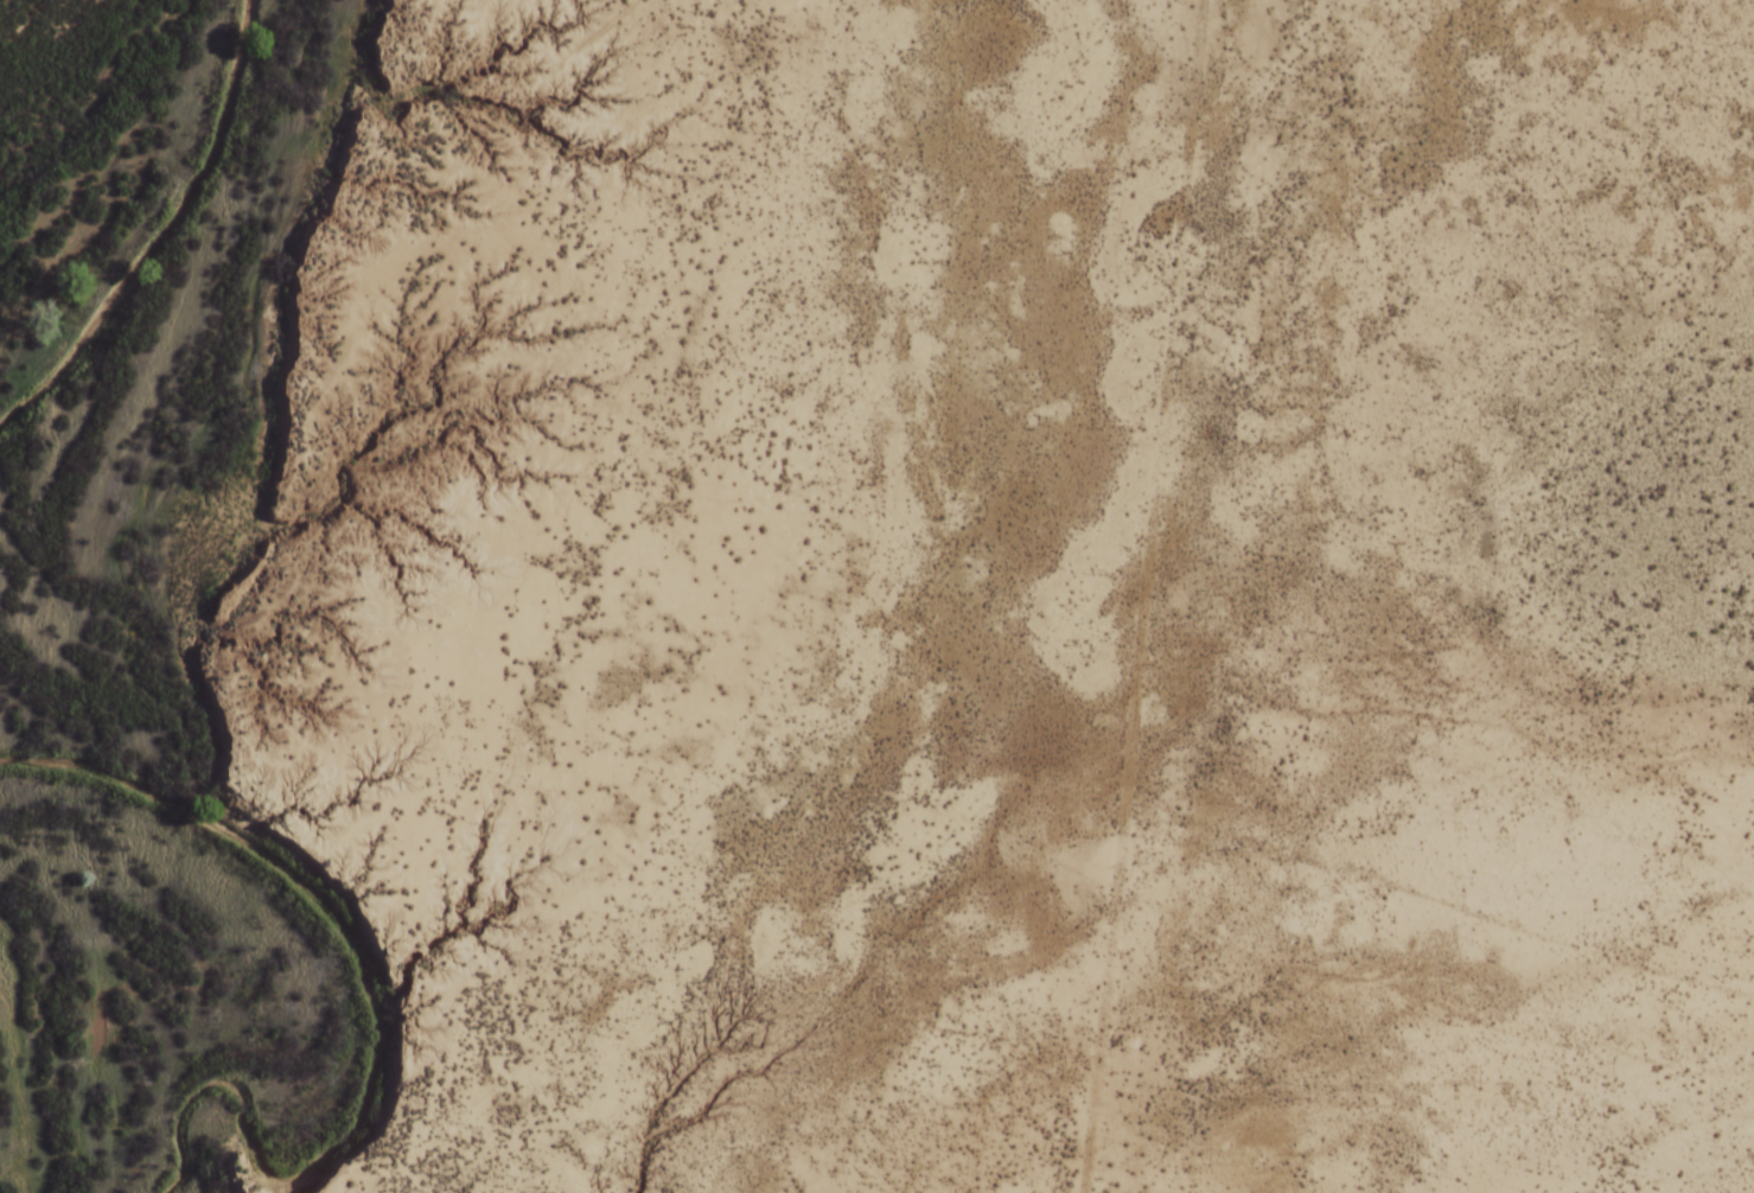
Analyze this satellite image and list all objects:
river: (135, 211)
river: (312, 968)

